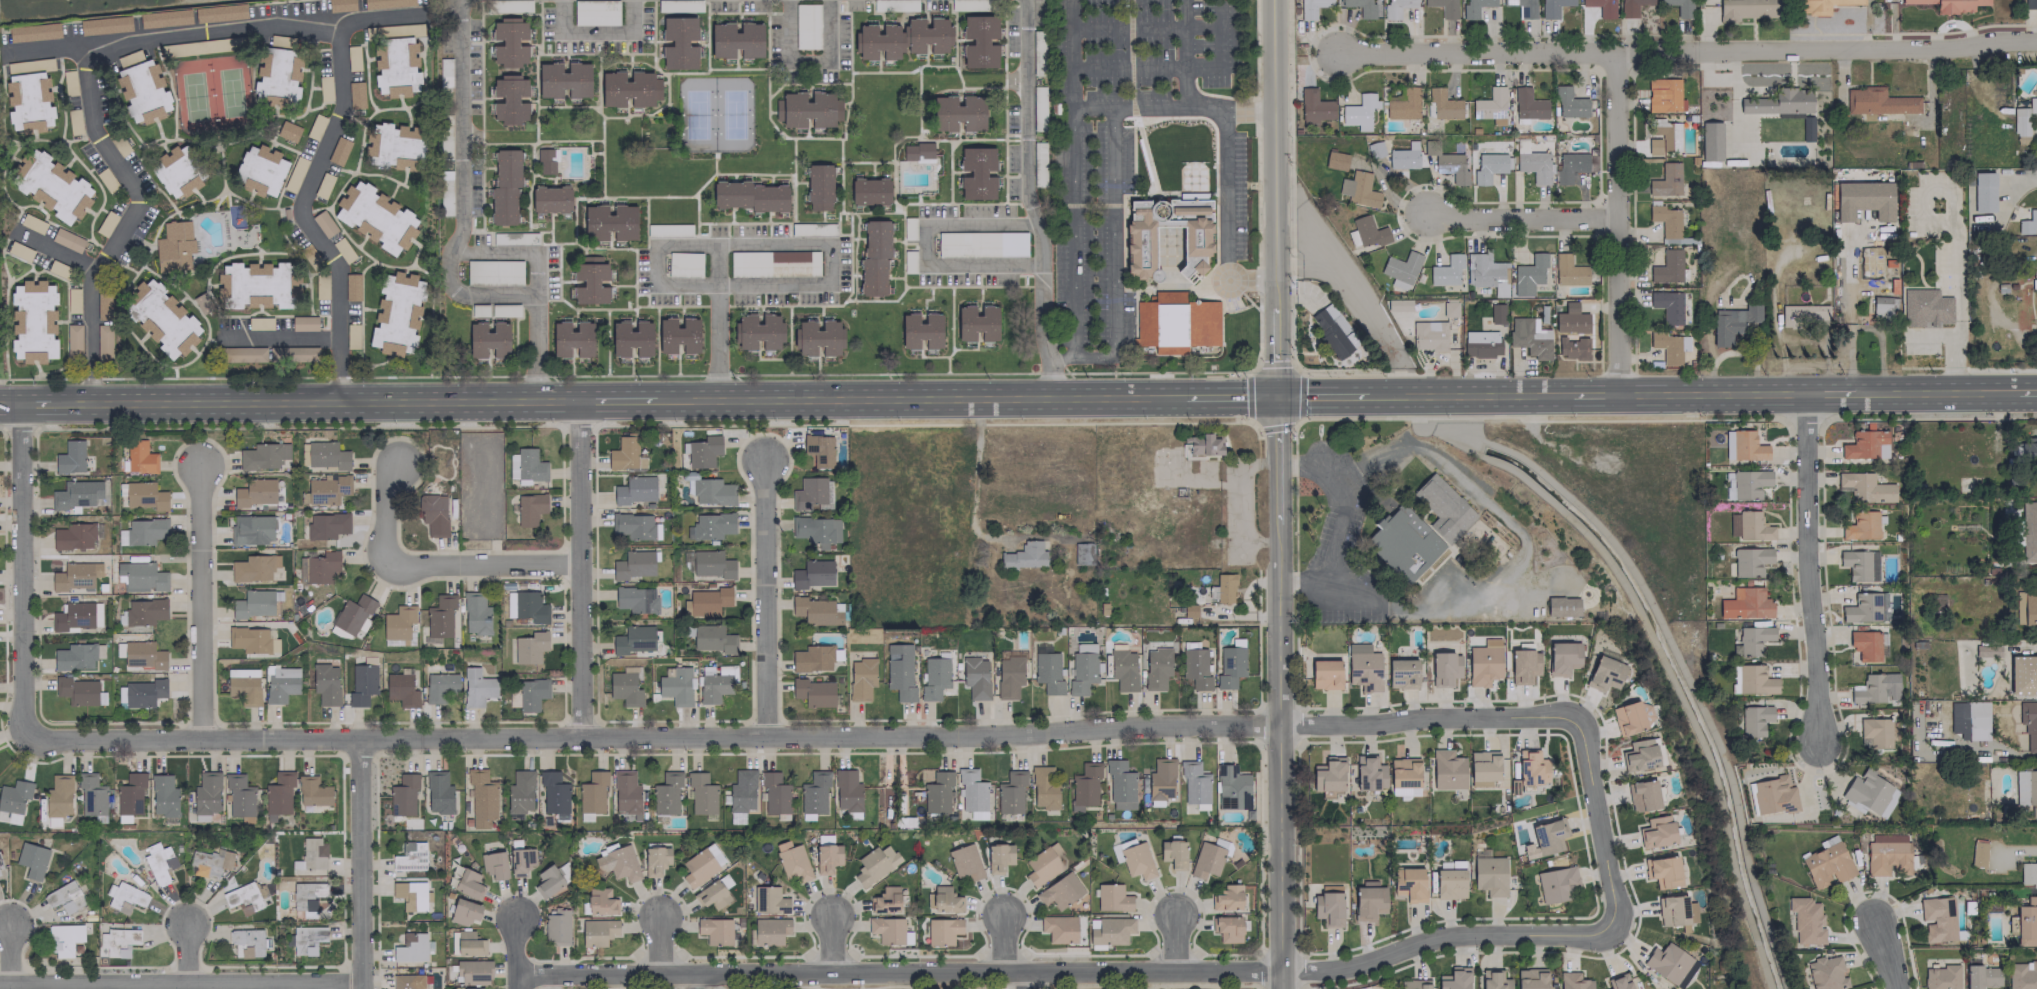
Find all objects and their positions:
building: (387, 3)
building: (2030, 4)
building: (340, 5)
building: (1819, 5)
building: (1950, 5)
building: (1311, 7)
building: (1361, 7)
building: (1443, 7)
building: (1475, 7)
building: (1522, 7)
building: (1552, 7)
building: (1601, 7)
building: (1631, 7)
building: (1680, 7)
building: (1395, 8)
building: (1747, 9)
building: (219, 12)
building: (595, 12)
building: (164, 18)
building: (104, 25)
building: (806, 26)
road: (1144, 26)
building: (33, 32)
road: (214, 32)
road: (595, 32)
road: (1912, 33)
building: (901, 38)
building: (736, 40)
building: (979, 41)
building: (508, 42)
building: (679, 42)
road: (1687, 49)
building: (395, 58)
road: (806, 59)
road: (1130, 59)
road: (1176, 68)
building: (277, 74)
building: (563, 79)
building: (141, 88)
building: (629, 88)
park: (216, 90)
building: (355, 95)
building: (1663, 95)
building: (509, 99)
building: (1877, 101)
building: (29, 102)
building: (1779, 102)
building: (1569, 103)
building: (1528, 104)
building: (1403, 105)
building: (1443, 105)
building: (1490, 106)
building: (2031, 106)
building: (1313, 107)
building: (806, 109)
road: (1127, 109)
building: (1358, 111)
building: (957, 113)
road: (1228, 113)
building: (2036, 113)
park: (715, 115)
road: (1026, 119)
building: (2019, 124)
building: (1806, 127)
building: (287, 131)
building: (1663, 136)
building: (1710, 141)
building: (394, 146)
parking lot: (1128, 146)
building: (338, 150)
building: (917, 151)
building: (1403, 156)
building: (1335, 160)
building: (545, 161)
building: (1448, 164)
building: (1533, 166)
building: (1569, 166)
building: (1487, 167)
building: (259, 170)
road: (461, 170)
building: (177, 171)
building: (976, 173)
parking lot: (1935, 177)
building: (1665, 180)
road: (1154, 184)
building: (504, 187)
building: (819, 187)
building: (53, 188)
building: (1358, 189)
building: (869, 191)
building: (1982, 191)
road: (1145, 195)
building: (749, 196)
road: (1274, 198)
building: (550, 199)
building: (1863, 199)
road: (1097, 205)
parking lot: (1909, 211)
road: (1523, 215)
building: (375, 217)
road: (304, 219)
road: (1226, 220)
building: (1665, 220)
building: (609, 222)
road: (1618, 222)
building: (2027, 222)
building: (323, 223)
road: (1952, 224)
road: (121, 225)
building: (1367, 231)
road: (1072, 236)
building: (1167, 237)
building: (514, 238)
road: (771, 243)
road: (925, 244)
building: (981, 244)
building: (176, 245)
road: (54, 252)
building: (874, 256)
building: (1868, 262)
building: (773, 263)
road: (652, 264)
parking lot: (1942, 264)
road: (1112, 265)
building: (1667, 267)
building: (1400, 270)
building: (1445, 270)
building: (1568, 270)
building: (1485, 272)
building: (1528, 274)
building: (590, 280)
building: (258, 285)
building: (352, 286)
building: (2035, 287)
road: (1193, 288)
road: (1128, 299)
parking lot: (1233, 302)
building: (1397, 304)
building: (1667, 305)
building: (1880, 305)
building: (103, 306)
building: (1570, 307)
building: (1926, 308)
building: (1449, 309)
building: (396, 313)
building: (1496, 313)
road: (1040, 317)
building: (161, 318)
building: (33, 321)
building: (1732, 322)
building: (303, 323)
building: (976, 323)
building: (1176, 323)
road: (537, 329)
building: (920, 331)
building: (757, 332)
building: (1331, 332)
building: (677, 335)
building: (1428, 335)
road: (280, 336)
building: (1529, 336)
building: (817, 337)
building: (631, 338)
building: (488, 339)
building: (572, 339)
road: (1951, 341)
building: (72, 342)
building: (103, 343)
building: (1481, 343)
building: (1669, 346)
parking lot: (1921, 348)
building: (1572, 349)
building: (292, 353)
building: (240, 354)
road: (2024, 391)
road: (1933, 392)
road: (1710, 393)
road: (1829, 393)
road: (1593, 394)
road: (1471, 395)
road: (1324, 396)
road: (1227, 397)
traffic signals: (1276, 397)
road: (618, 399)
road: (919, 399)
road: (313, 402)
road: (9, 403)
road: (34, 403)
building: (1202, 444)
building: (1865, 444)
building: (1744, 445)
building: (818, 449)
building: (2025, 450)
building: (703, 451)
building: (625, 454)
building: (263, 455)
building: (327, 455)
building: (70, 457)
building: (139, 457)
building: (526, 465)
building: (1749, 483)
road: (972, 484)
building: (1865, 488)
building: (326, 490)
building: (634, 490)
building: (712, 492)
building: (808, 492)
building: (254, 493)
building: (75, 494)
building: (145, 495)
building: (529, 508)
road: (388, 513)
building: (433, 514)
road: (1340, 519)
building: (1732, 524)
building: (1861, 525)
building: (325, 526)
building: (635, 526)
building: (710, 526)
building: (1753, 526)
building: (251, 529)
building: (815, 530)
building: (1418, 530)
building: (142, 531)
building: (2029, 531)
building: (74, 536)
parking lot: (1338, 542)
road: (1521, 550)
building: (1082, 553)
building: (1024, 556)
building: (1750, 561)
building: (633, 564)
building: (712, 564)
building: (1859, 564)
road: (483, 566)
building: (321, 567)
building: (252, 568)
road: (580, 569)
road: (1810, 569)
building: (301, 570)
road: (21, 571)
building: (812, 574)
building: (75, 577)
building: (140, 577)
building: (1224, 587)
building: (636, 599)
building: (706, 601)
road: (765, 601)
road: (202, 602)
building: (1746, 603)
building: (253, 604)
building: (526, 606)
building: (1563, 606)
building: (1865, 607)
building: (2026, 607)
building: (144, 611)
building: (817, 611)
building: (475, 613)
building: (352, 614)
building: (75, 616)
building: (439, 618)
building: (398, 622)
building: (711, 638)
building: (249, 639)
building: (633, 639)
building: (1753, 639)
building: (1865, 644)
building: (529, 647)
building: (1986, 650)
building: (143, 655)
building: (77, 656)
building: (1562, 657)
building: (812, 658)
building: (1483, 662)
building: (1523, 665)
building: (1229, 666)
building: (1363, 667)
building: (1156, 668)
building: (1195, 668)
building: (1444, 668)
building: (1082, 669)
building: (1123, 669)
building: (899, 671)
building: (1047, 671)
building: (1401, 673)
building: (1604, 673)
building: (975, 674)
building: (1325, 674)
building: (2022, 674)
building: (1009, 677)
building: (861, 678)
building: (933, 678)
building: (1733, 679)
building: (1754, 680)
building: (280, 683)
building: (325, 683)
building: (361, 683)
building: (243, 685)
building: (439, 686)
building: (676, 686)
building: (476, 687)
building: (713, 687)
building: (624, 688)
building: (1876, 688)
building: (401, 689)
building: (76, 690)
building: (143, 692)
building: (813, 692)
road: (1279, 692)
building: (531, 694)
building: (1646, 712)
building: (1627, 718)
building: (1754, 719)
building: (1968, 719)
building: (2028, 723)
building: (1878, 731)
road: (799, 736)
building: (1641, 754)
building: (1482, 767)
building: (1531, 767)
building: (1446, 769)
building: (1403, 772)
building: (1368, 773)
building: (1327, 775)
building: (1159, 781)
building: (1193, 782)
building: (1084, 785)
building: (1119, 785)
building: (1231, 787)
building: (1043, 788)
building: (971, 789)
building: (2026, 789)
building: (846, 790)
building: (312, 791)
building: (438, 792)
building: (520, 792)
building: (592, 792)
building: (937, 792)
building: (1010, 792)
building: (1403, 792)
building: (206, 793)
building: (626, 793)
building: (666, 793)
building: (774, 793)
building: (1869, 793)
building: (130, 794)
building: (278, 794)
building: (553, 794)
building: (701, 794)
building: (740, 794)
building: (813, 794)
building: (14, 795)
building: (91, 795)
building: (238, 795)
building: (403, 795)
building: (1642, 795)
building: (1772, 795)
building: (59, 796)
building: (163, 796)
building: (481, 798)
road: (1601, 824)
building: (1656, 831)
building: (824, 838)
building: (1544, 838)
building: (1977, 852)
building: (313, 853)
building: (1173, 853)
building: (1115, 854)
building: (1887, 854)
building: (409, 856)
building: (827, 857)
building: (998, 857)
building: (31, 859)
building: (655, 860)
building: (791, 860)
building: (1206, 860)
building: (520, 861)
building: (1136, 861)
building: (964, 862)
building: (208, 863)
building: (618, 863)
building: (874, 863)
road: (360, 864)
building: (494, 864)
building: (701, 864)
building: (1043, 864)
building: (1450, 864)
building: (159, 865)
building: (1827, 865)
building: (0, 871)
building: (1662, 871)
building: (2027, 873)
building: (1489, 875)
building: (547, 881)
building: (1409, 883)
building: (468, 884)
building: (1449, 884)
building: (1556, 884)
building: (1059, 891)
building: (307, 895)
building: (411, 895)
building: (711, 895)
building: (245, 896)
building: (64, 897)
building: (124, 897)
building: (1111, 897)
building: (1226, 898)
building: (942, 899)
building: (768, 900)
building: (885, 900)
building: (600, 901)
building: (1368, 902)
building: (1327, 908)
building: (1675, 910)
building: (464, 911)
building: (1937, 918)
building: (1805, 920)
building: (2026, 922)
building: (556, 927)
building: (1058, 928)
building: (1227, 928)
building: (714, 930)
building: (888, 930)
building: (942, 930)
building: (1109, 930)
building: (598, 931)
building: (769, 931)
building: (63, 939)
building: (306, 939)
building: (116, 942)
building: (246, 942)
building: (469, 943)
road: (1002, 945)
road: (1175, 946)
building: (412, 947)
road: (659, 949)
road: (831, 951)
road: (516, 952)
road: (1885, 954)
road: (188, 956)
road: (9, 957)
building: (1669, 964)
building: (472, 971)
building: (1826, 973)
road: (1068, 974)
building: (2022, 975)
building: (1981, 976)
building: (1940, 977)
building: (1454, 978)
building: (1530, 978)
building: (1493, 979)
building: (407, 981)
road: (1028, 981)
building: (1572, 981)
road: (694, 982)
building: (1618, 982)
building: (1413, 984)
road: (180, 985)
building: (472, 988)

